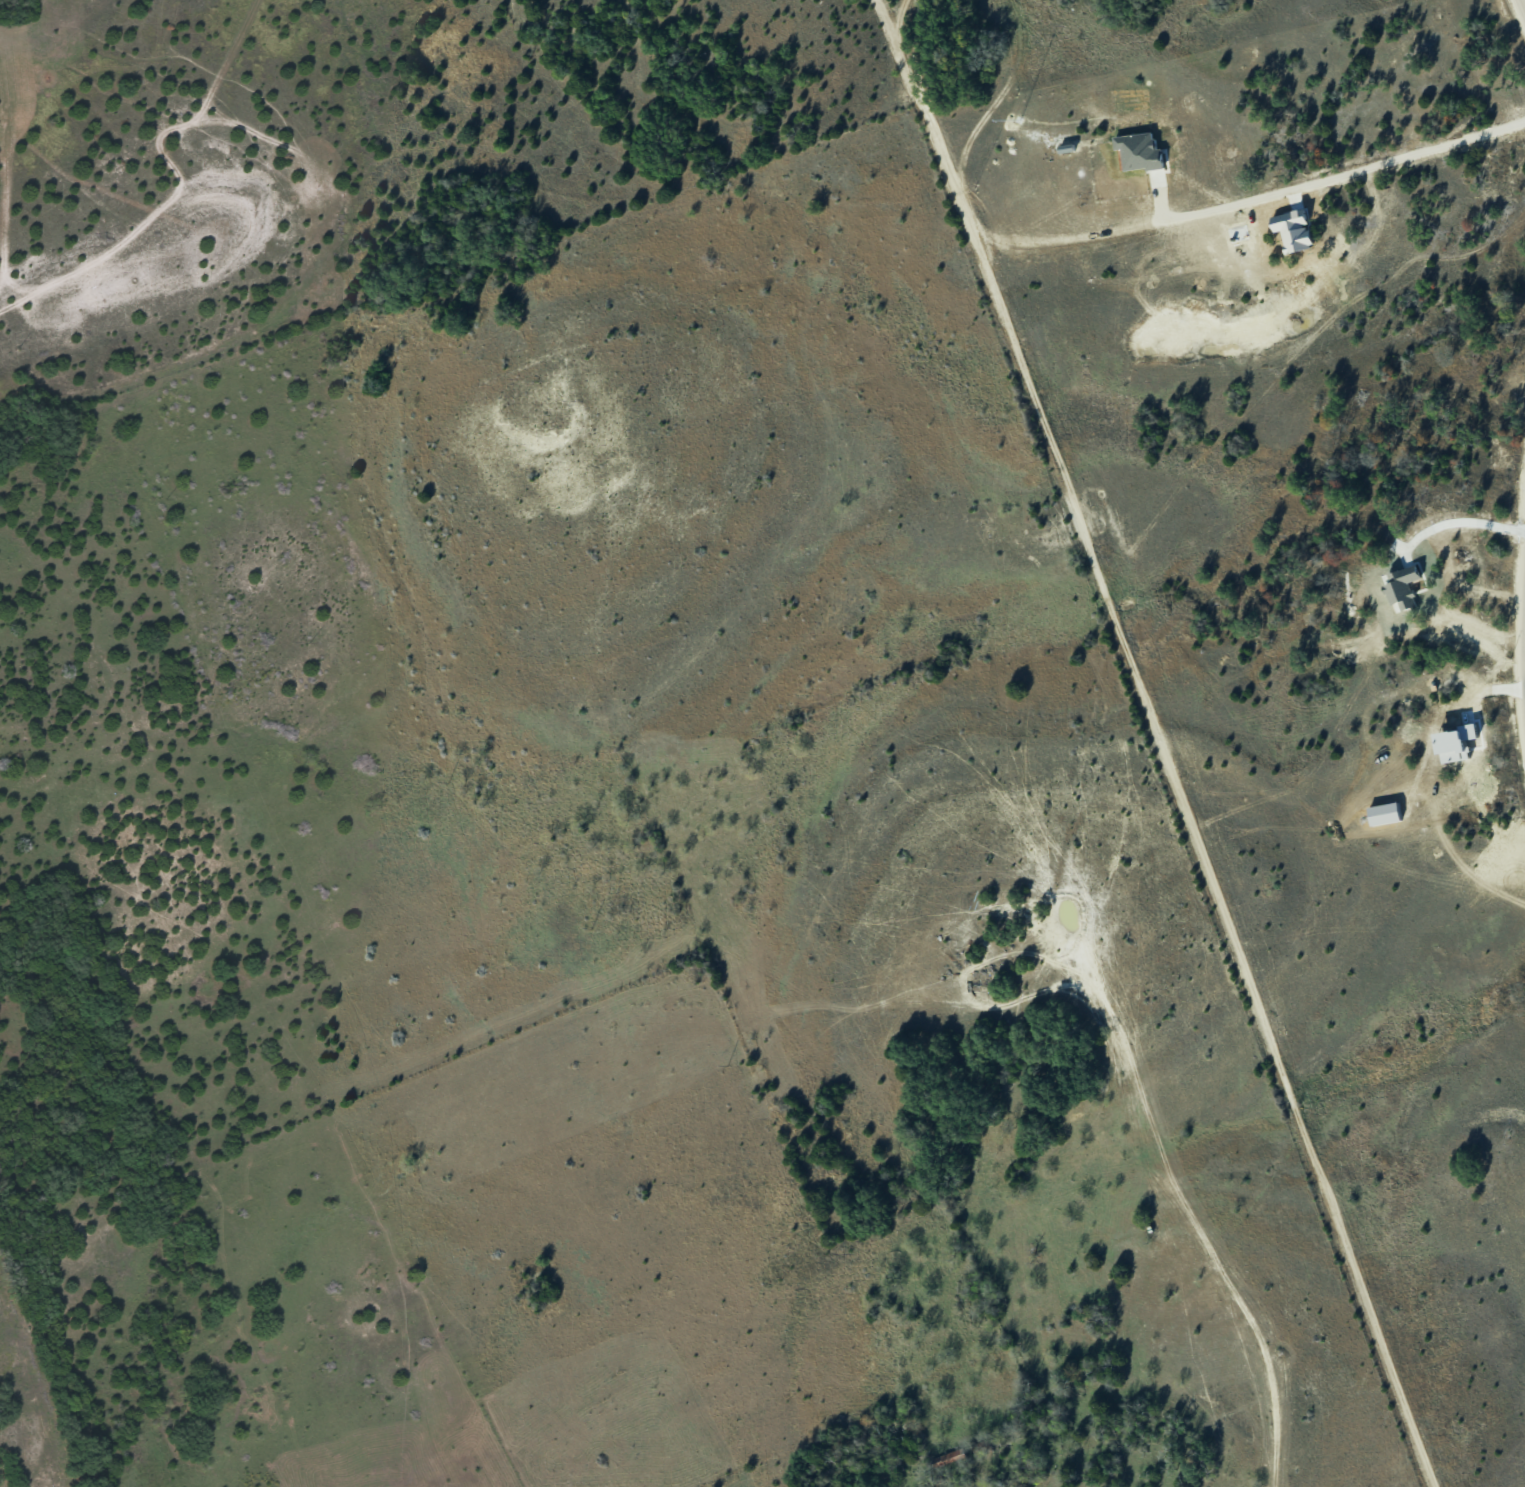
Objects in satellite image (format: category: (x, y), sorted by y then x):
road: (1522, 5)
building: (1138, 153)
road: (1359, 166)
road: (1523, 684)
road: (1158, 746)
road: (977, 1484)

